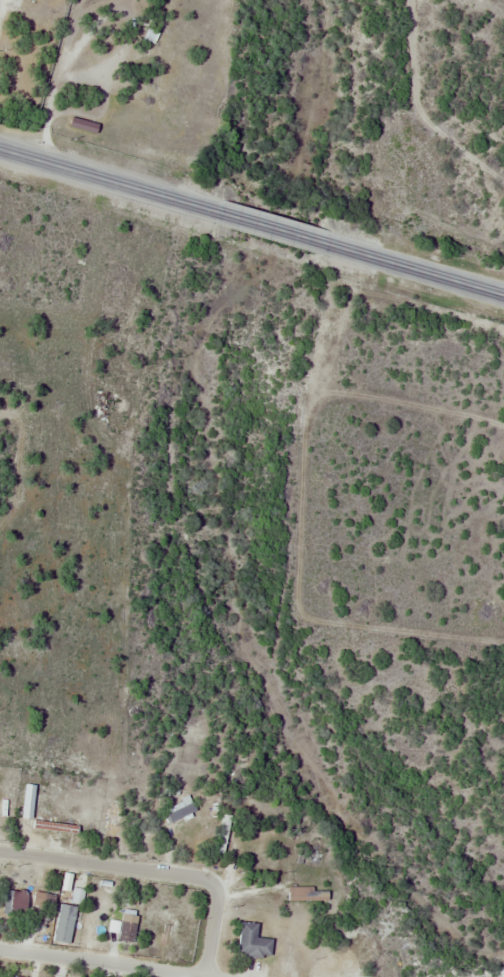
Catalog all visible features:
road: (103, 178)
road: (277, 229)
road: (426, 272)
building: (58, 812)
building: (112, 823)
building: (189, 834)
building: (223, 834)
building: (307, 895)
building: (256, 900)
building: (48, 902)
building: (15, 905)
road: (214, 919)
building: (65, 924)
building: (128, 929)
building: (253, 942)

